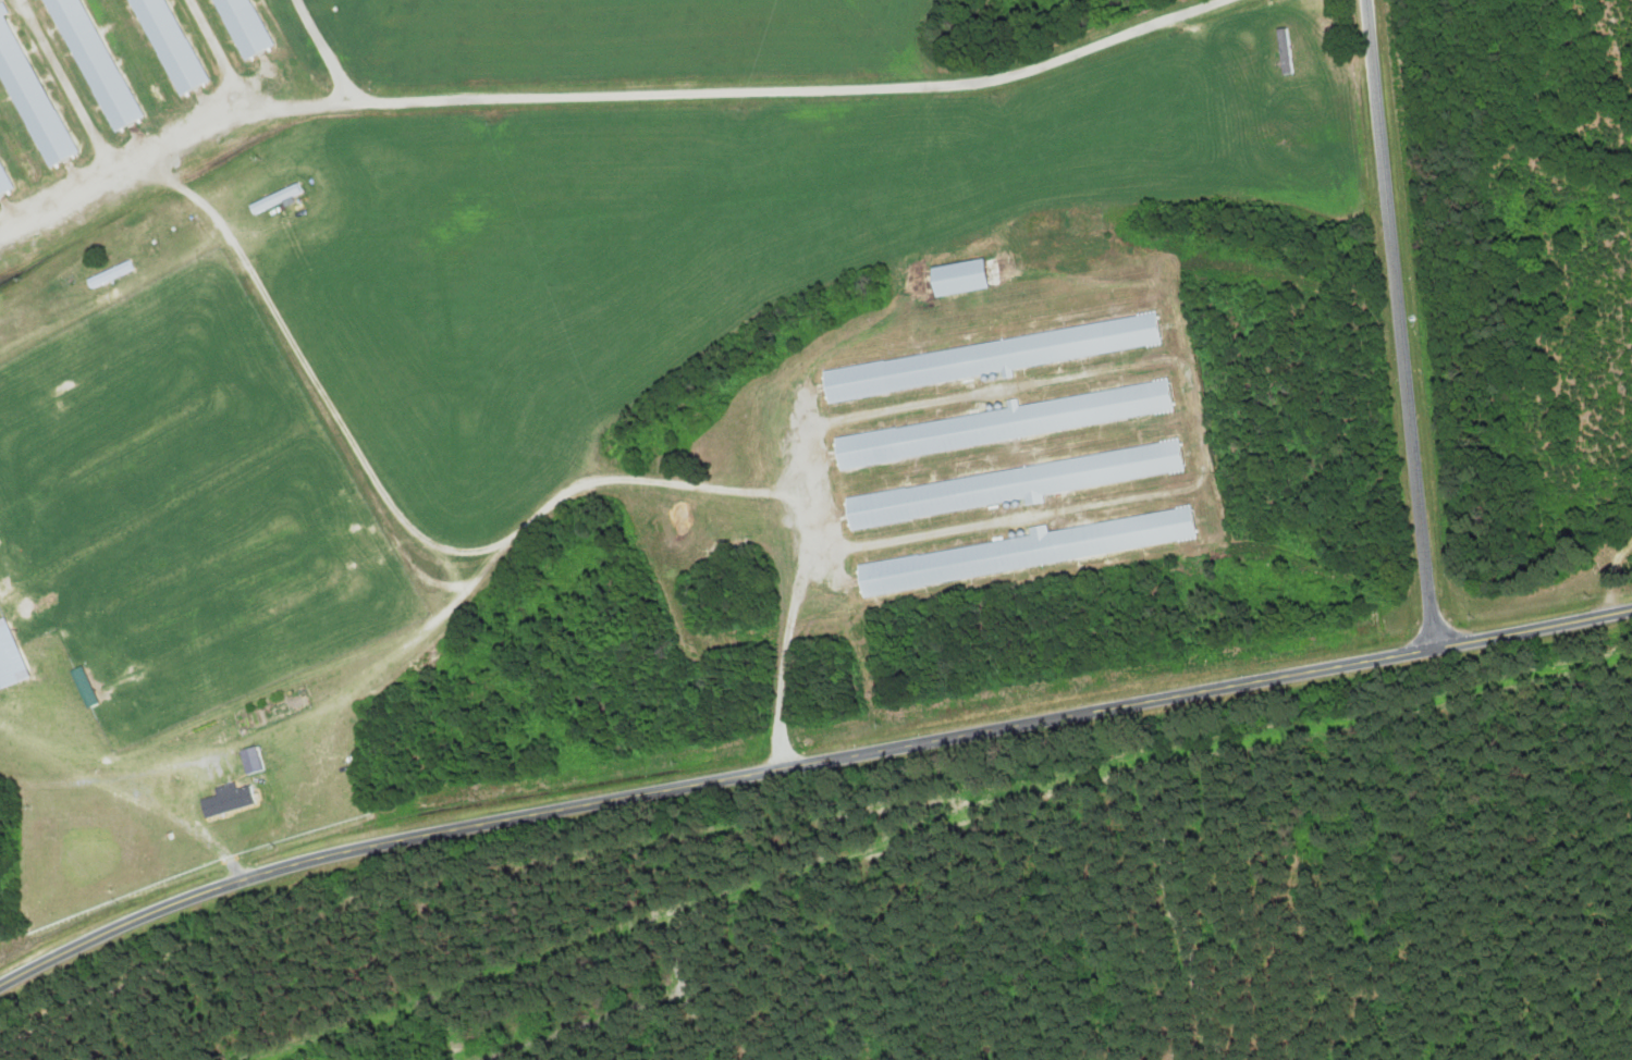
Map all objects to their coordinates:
building: (235, 28)
building: (165, 45)
building: (1, 189)
building: (108, 274)
road: (1399, 323)
building: (982, 359)
building: (1008, 423)
building: (1013, 484)
building: (1030, 550)
road: (1612, 569)
building: (8, 658)
building: (81, 687)
road: (806, 764)
building: (224, 799)

